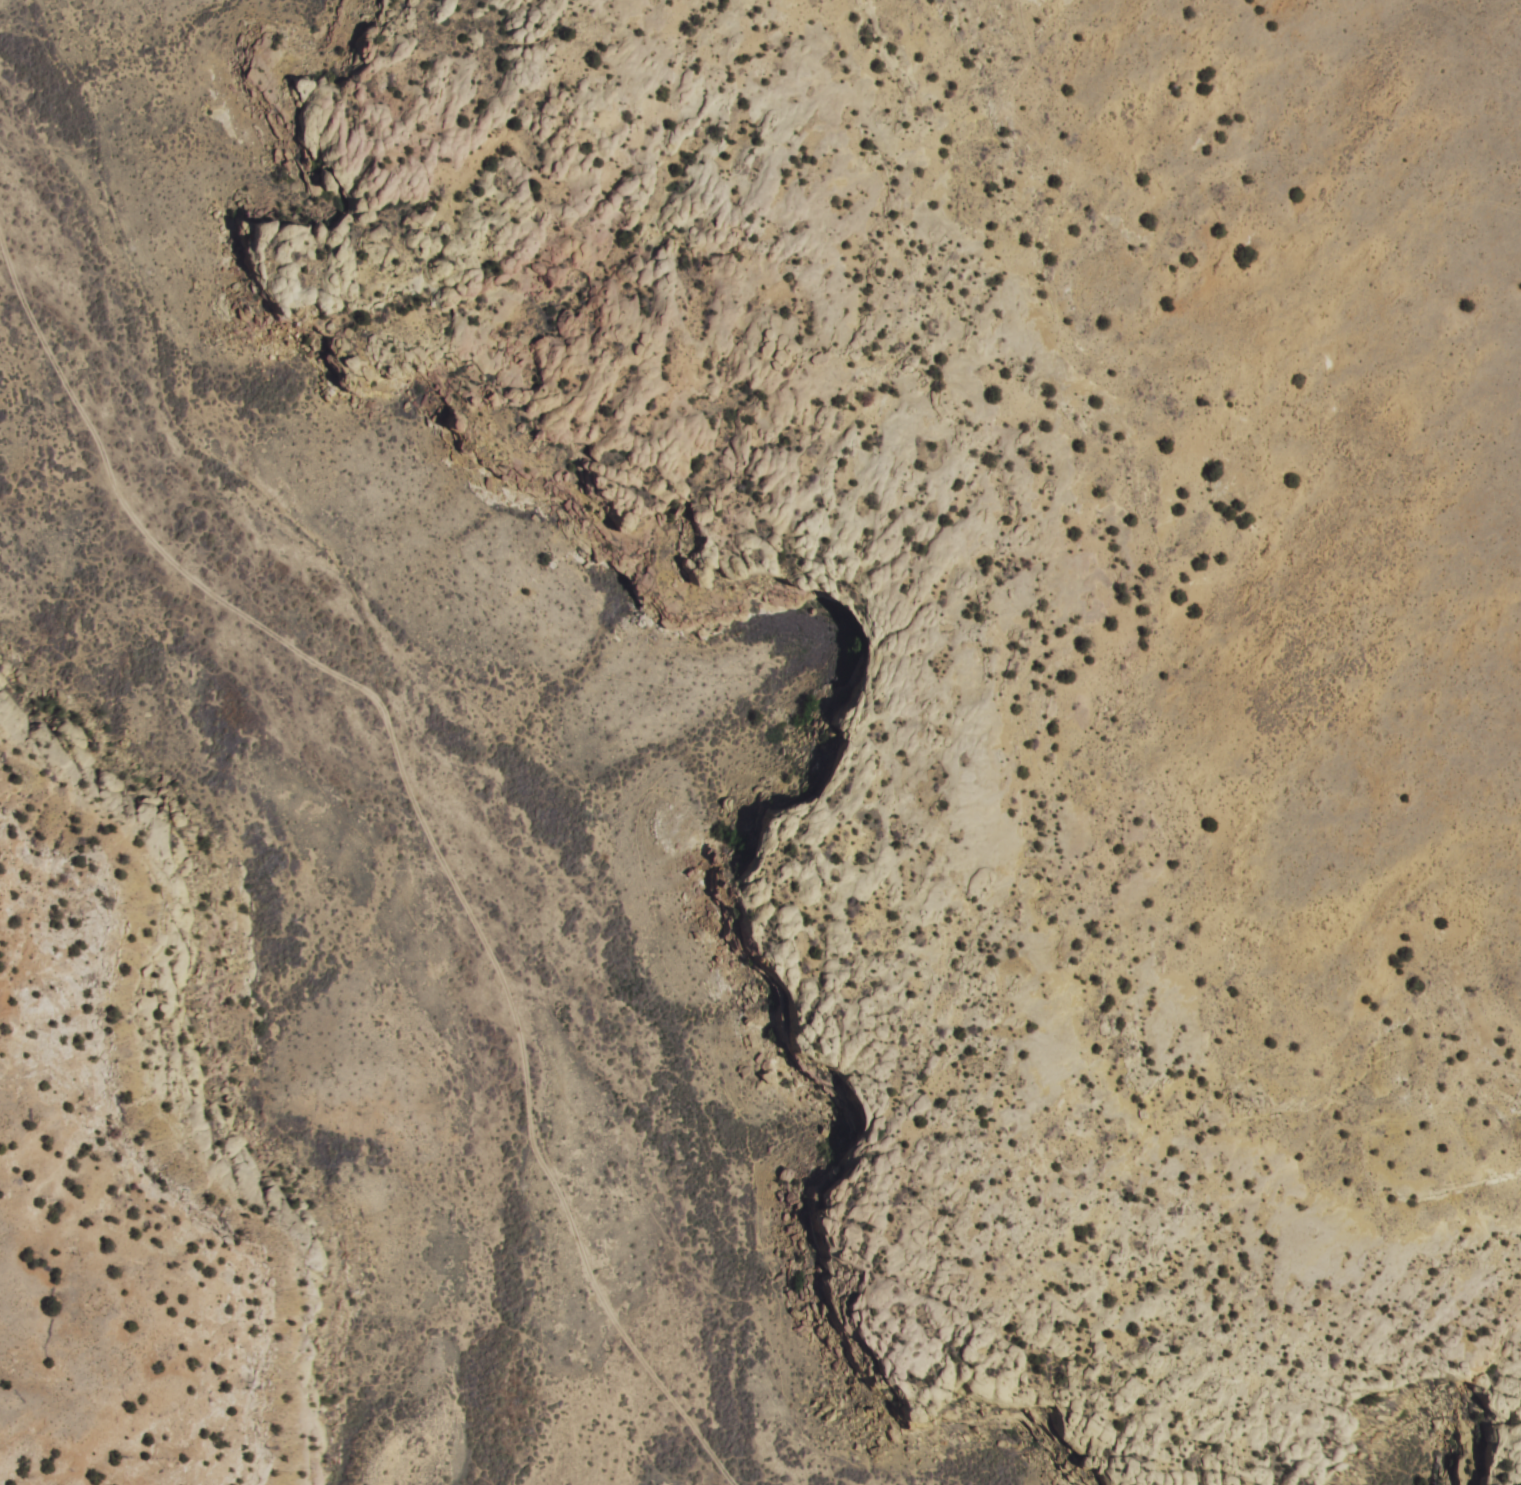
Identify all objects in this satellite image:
road: (514, 708)
river: (401, 790)
river: (665, 1464)

